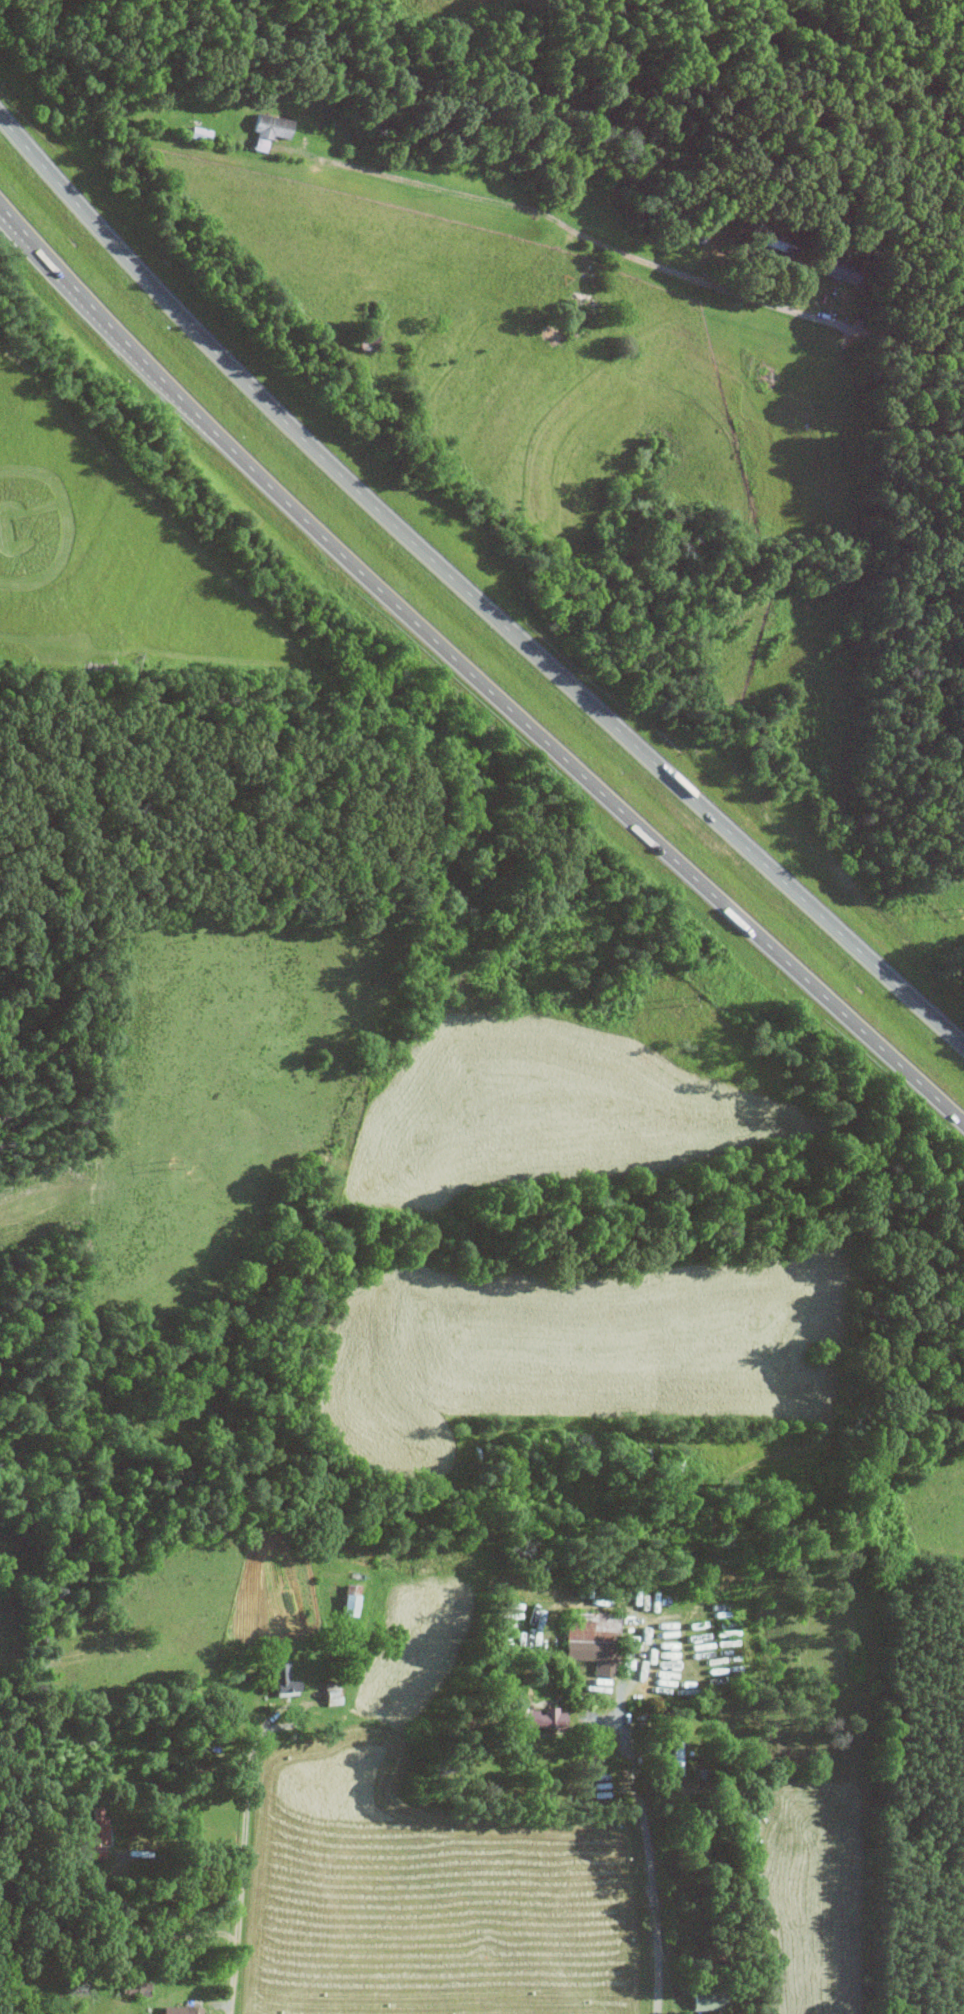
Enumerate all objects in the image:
building: (267, 128)
building: (199, 132)
road: (430, 184)
building: (838, 268)
road: (763, 293)
road: (468, 582)
road: (472, 672)
building: (348, 1603)
building: (592, 1640)
building: (281, 1679)
road: (296, 1711)
building: (533, 1716)
road: (625, 1732)
building: (676, 1748)
building: (748, 1823)
building: (95, 1832)
road: (238, 1875)
road: (117, 1886)
road: (657, 1910)
building: (708, 1998)
building: (181, 2009)

